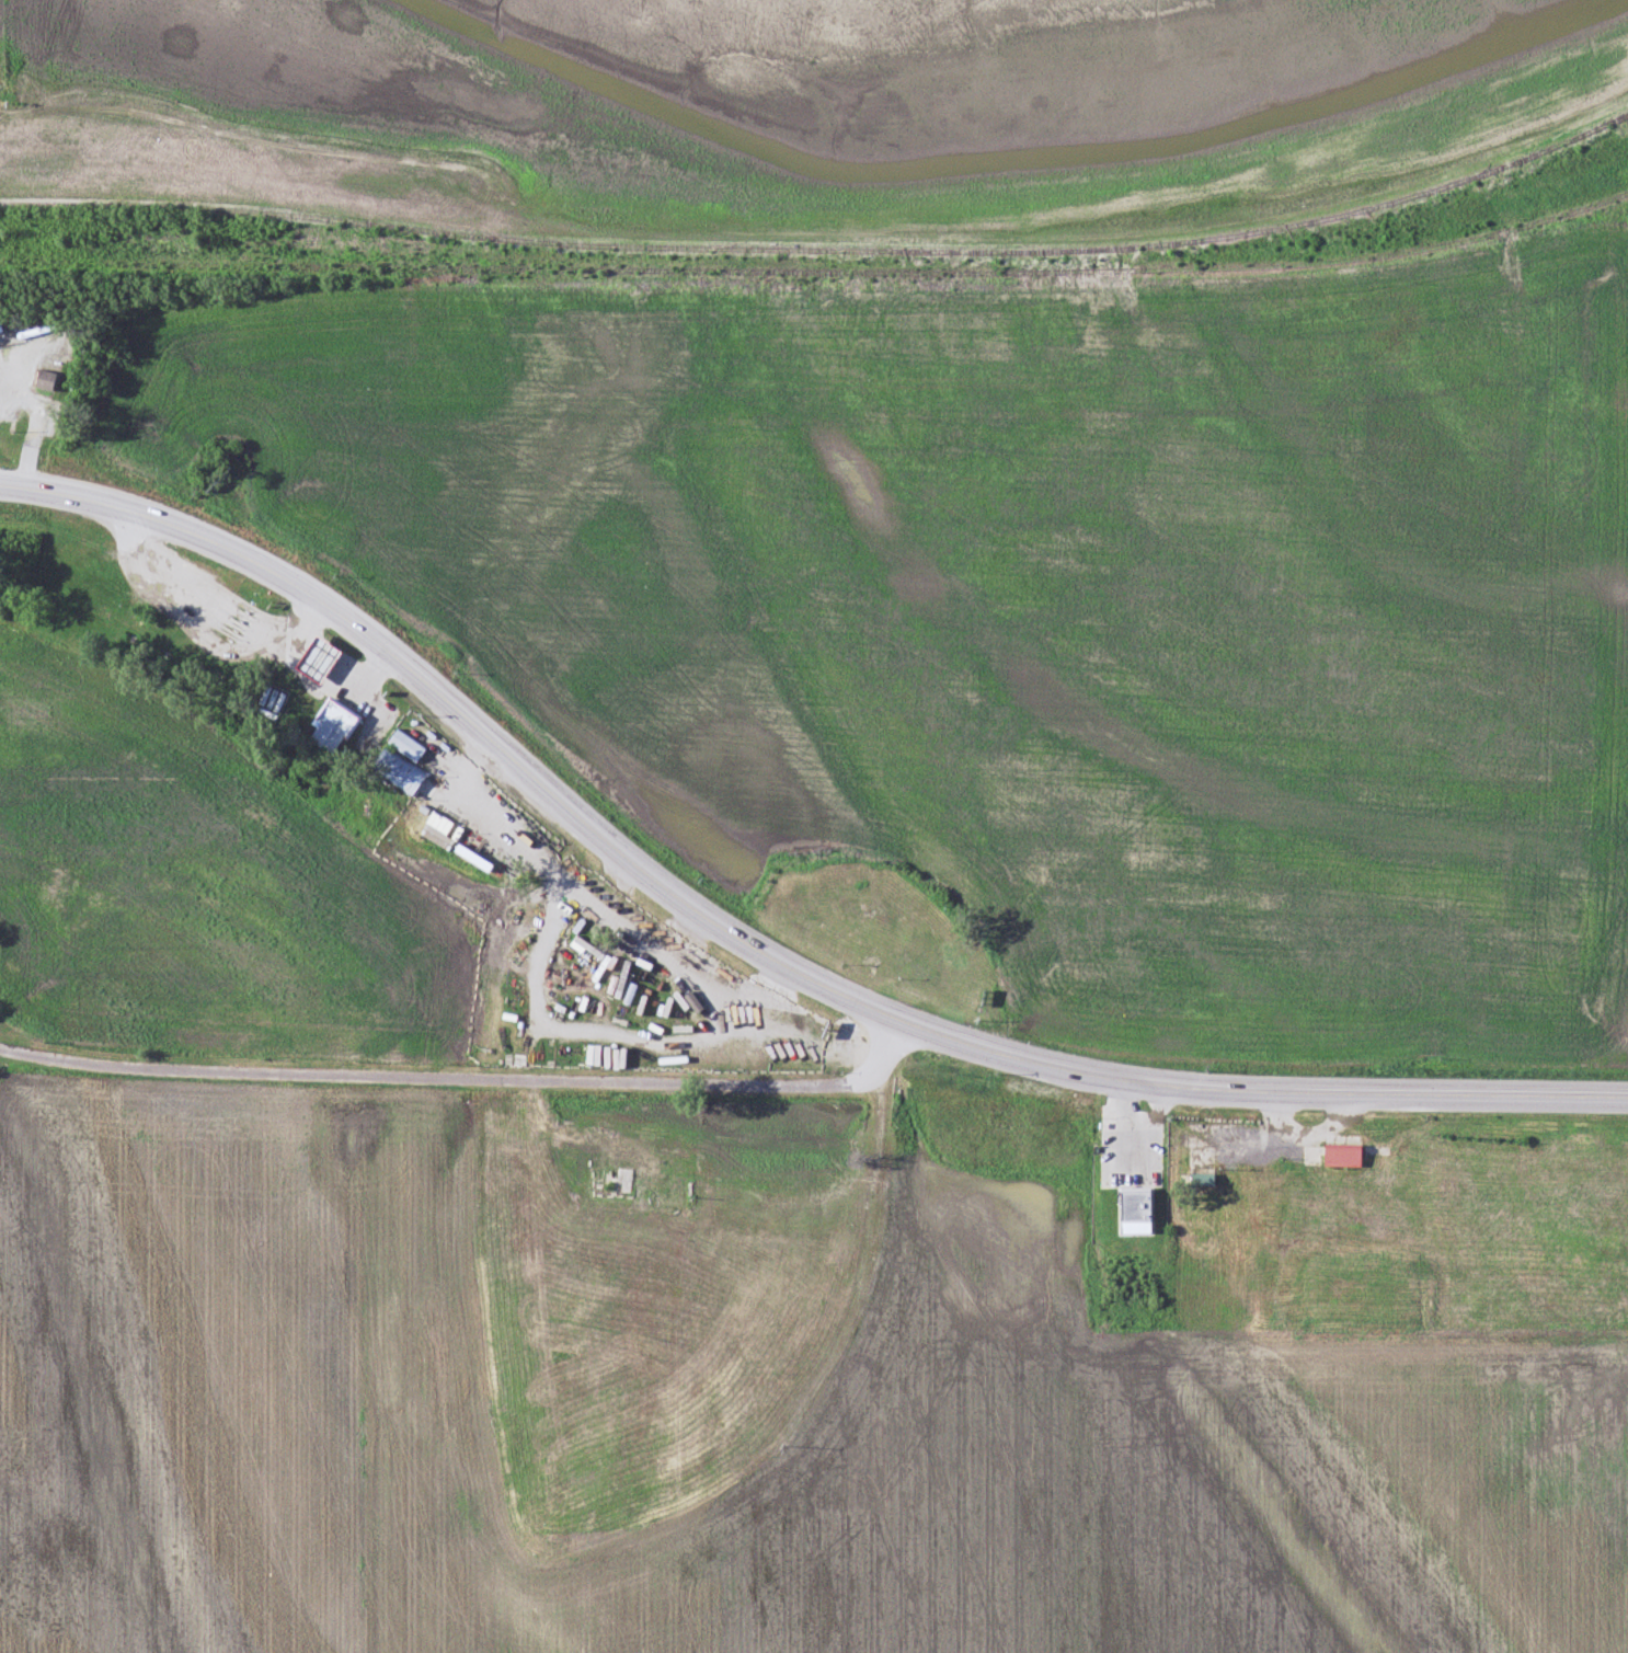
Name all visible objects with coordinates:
road: (249, 137)
railway: (823, 250)
railway: (818, 273)
building: (44, 381)
building: (314, 661)
gas station: (314, 661)
building: (330, 728)
building: (400, 764)
building: (471, 860)
road: (647, 871)
road: (466, 1078)
road: (1497, 1094)
building: (1342, 1158)
building: (1201, 1182)
building: (1134, 1215)
building: (750, 1232)

